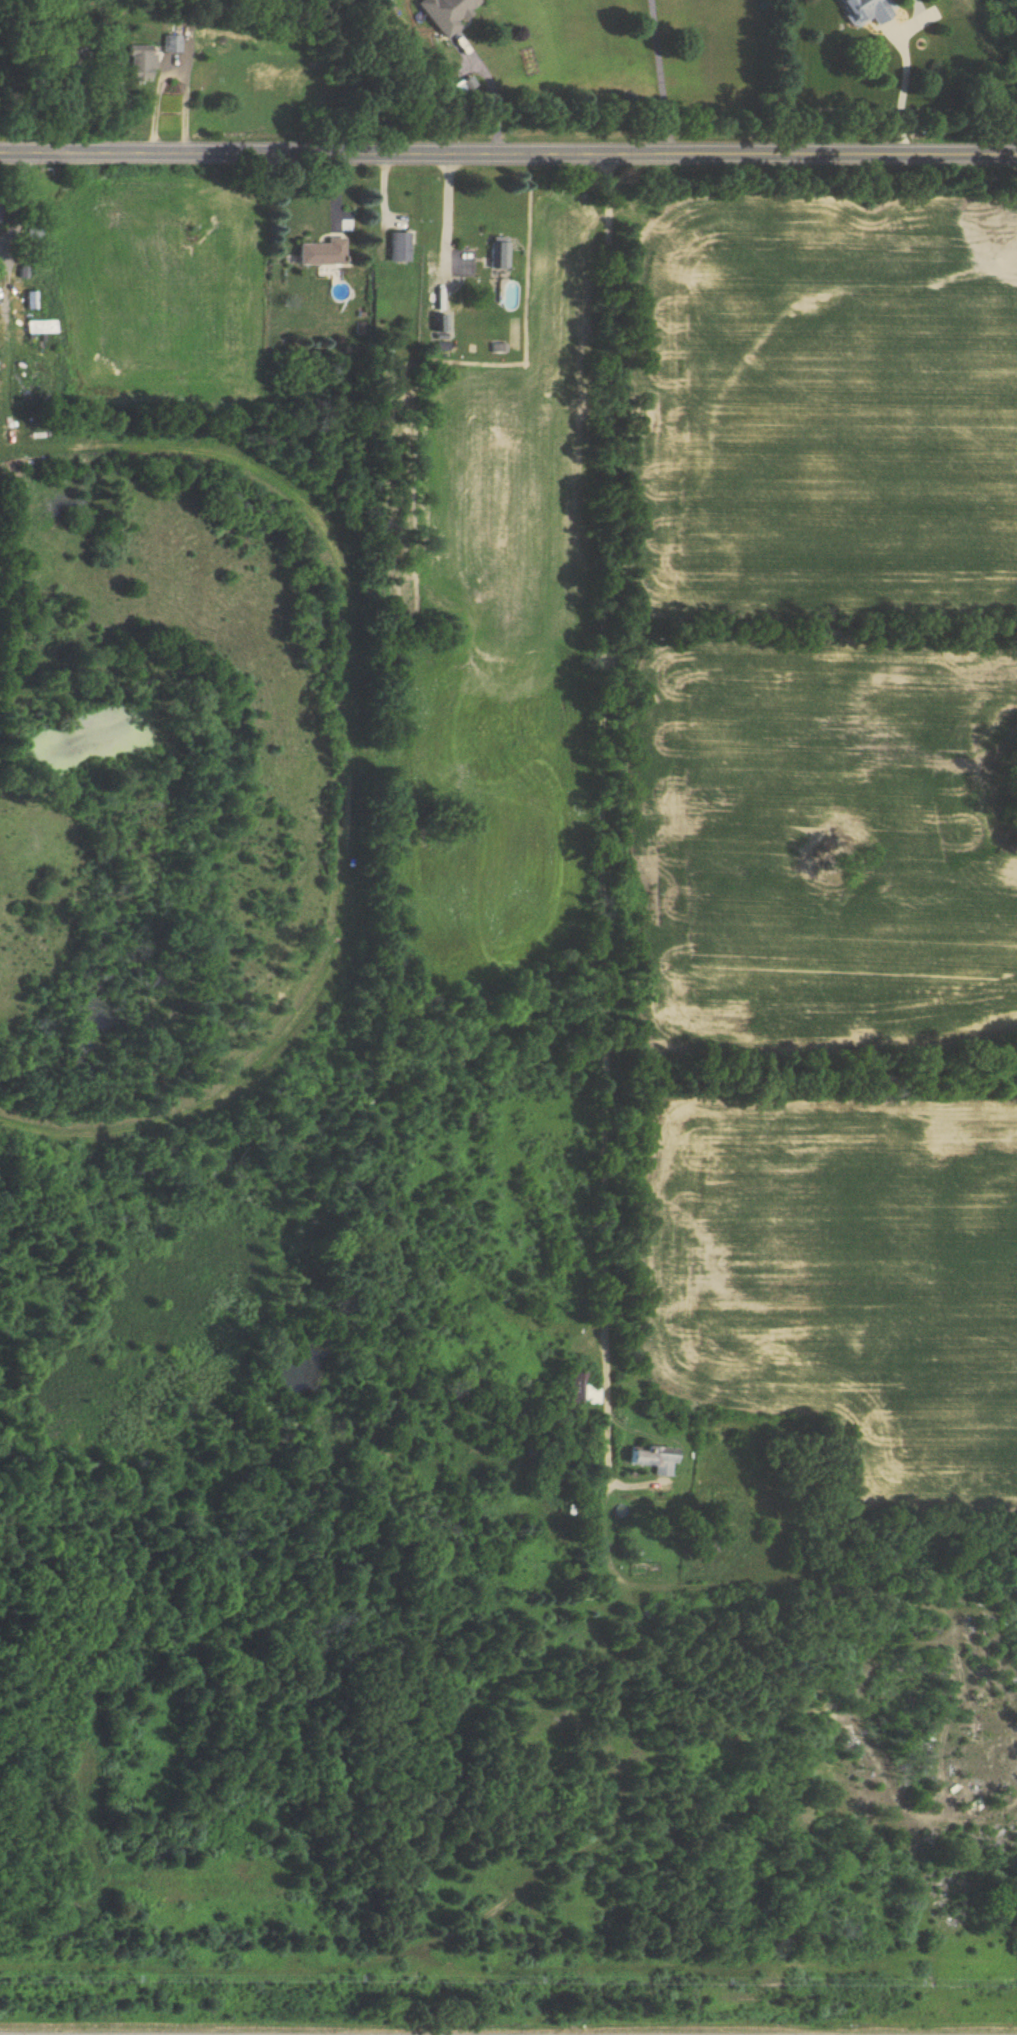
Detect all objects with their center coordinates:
building: (863, 11)
building: (444, 13)
building: (169, 44)
building: (60, 54)
building: (138, 62)
road: (170, 66)
road: (661, 76)
road: (902, 90)
road: (492, 92)
road: (508, 153)
road: (446, 216)
building: (396, 246)
building: (318, 252)
building: (500, 252)
building: (38, 321)
road: (3, 348)
road: (347, 770)
road: (599, 844)
building: (581, 1390)
building: (649, 1459)
building: (535, 1462)

